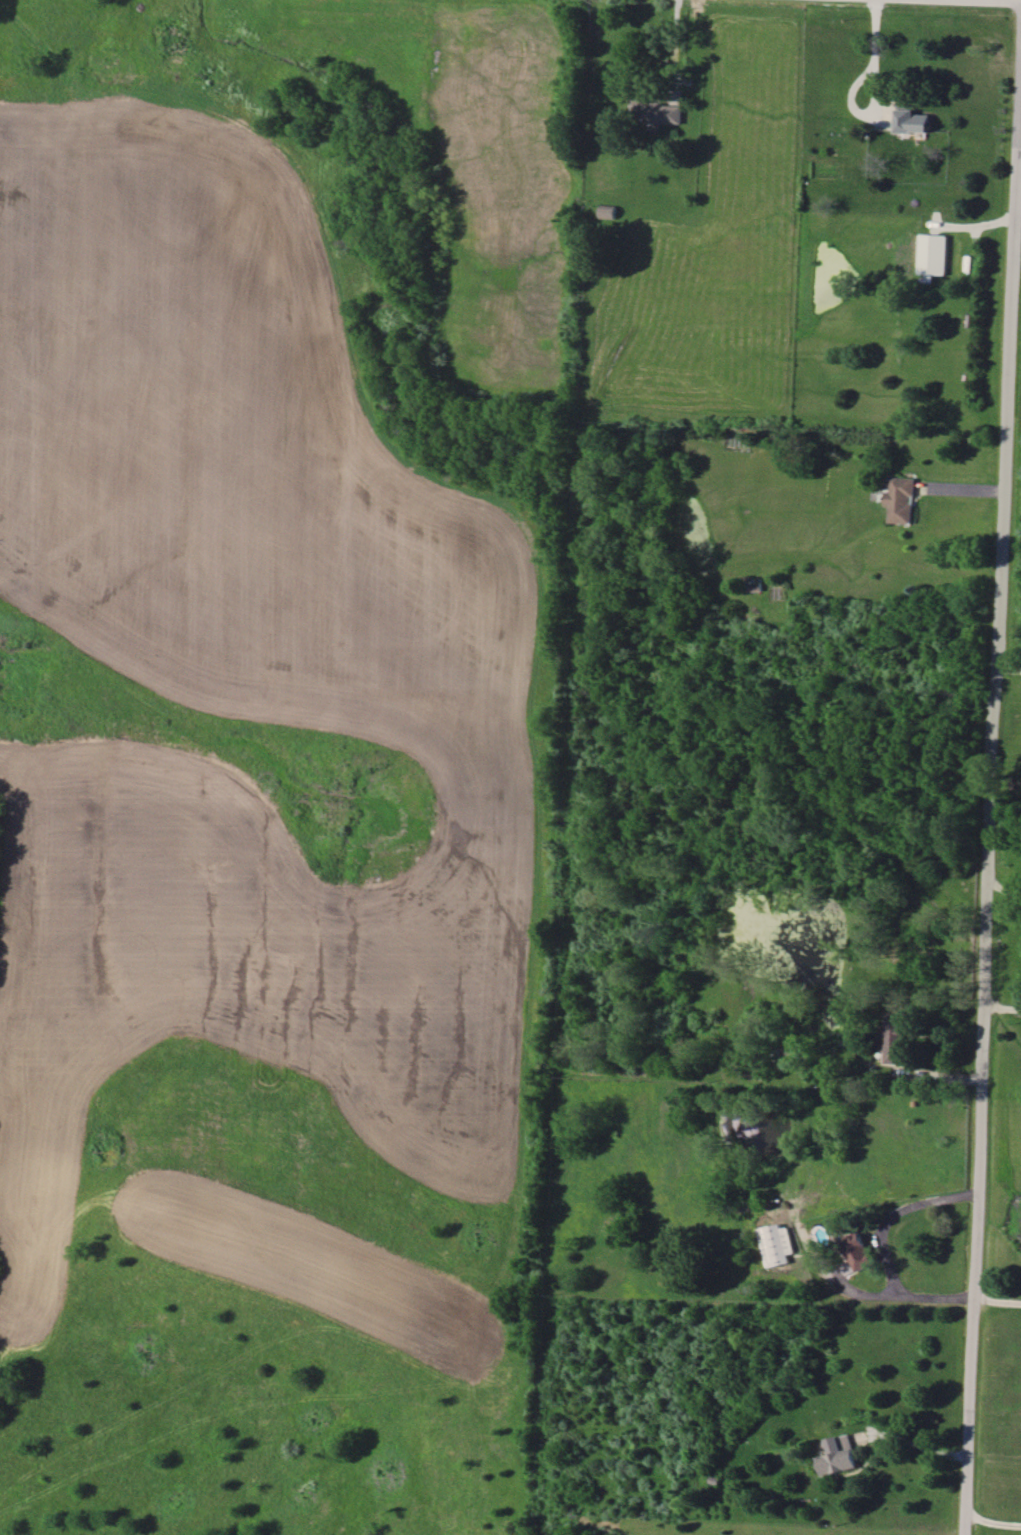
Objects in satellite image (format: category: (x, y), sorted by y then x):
road: (873, 29)
road: (675, 45)
road: (857, 107)
building: (656, 110)
building: (911, 120)
building: (933, 254)
building: (900, 499)
road: (1008, 668)
road: (990, 800)
road: (1003, 887)
road: (1002, 1007)
building: (775, 1244)
road: (882, 1247)
building: (854, 1255)
road: (996, 1295)
road: (917, 1445)
building: (838, 1456)
road: (990, 1526)

